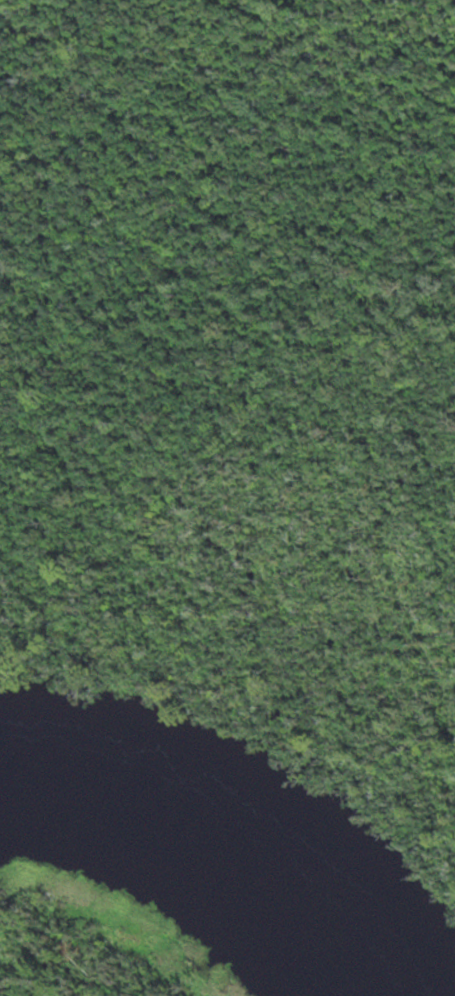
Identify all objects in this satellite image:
river: (215, 842)

